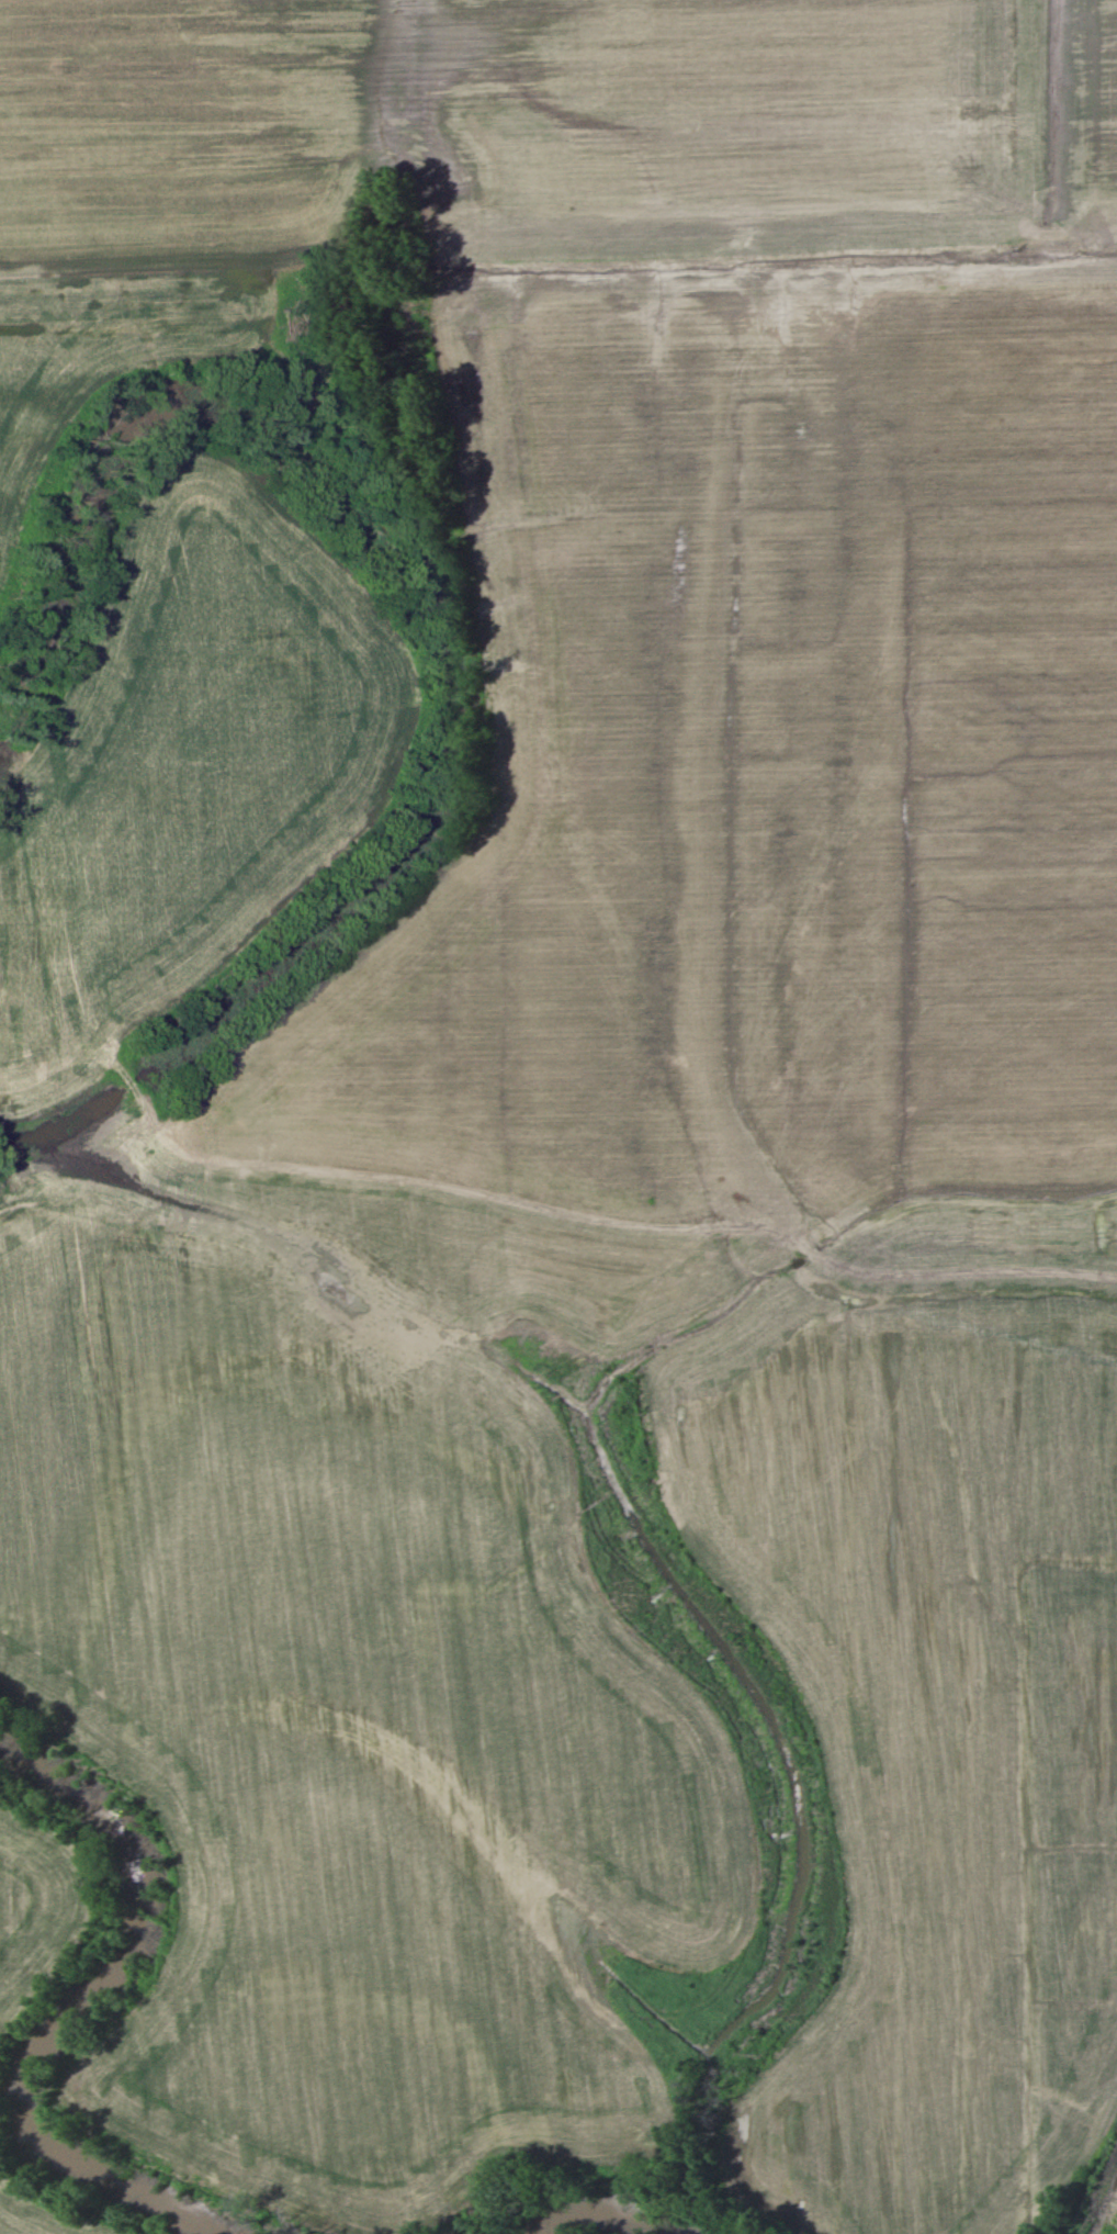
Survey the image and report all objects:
crop: (198, 772)
crop: (37, 1912)
crop: (38, 2214)

